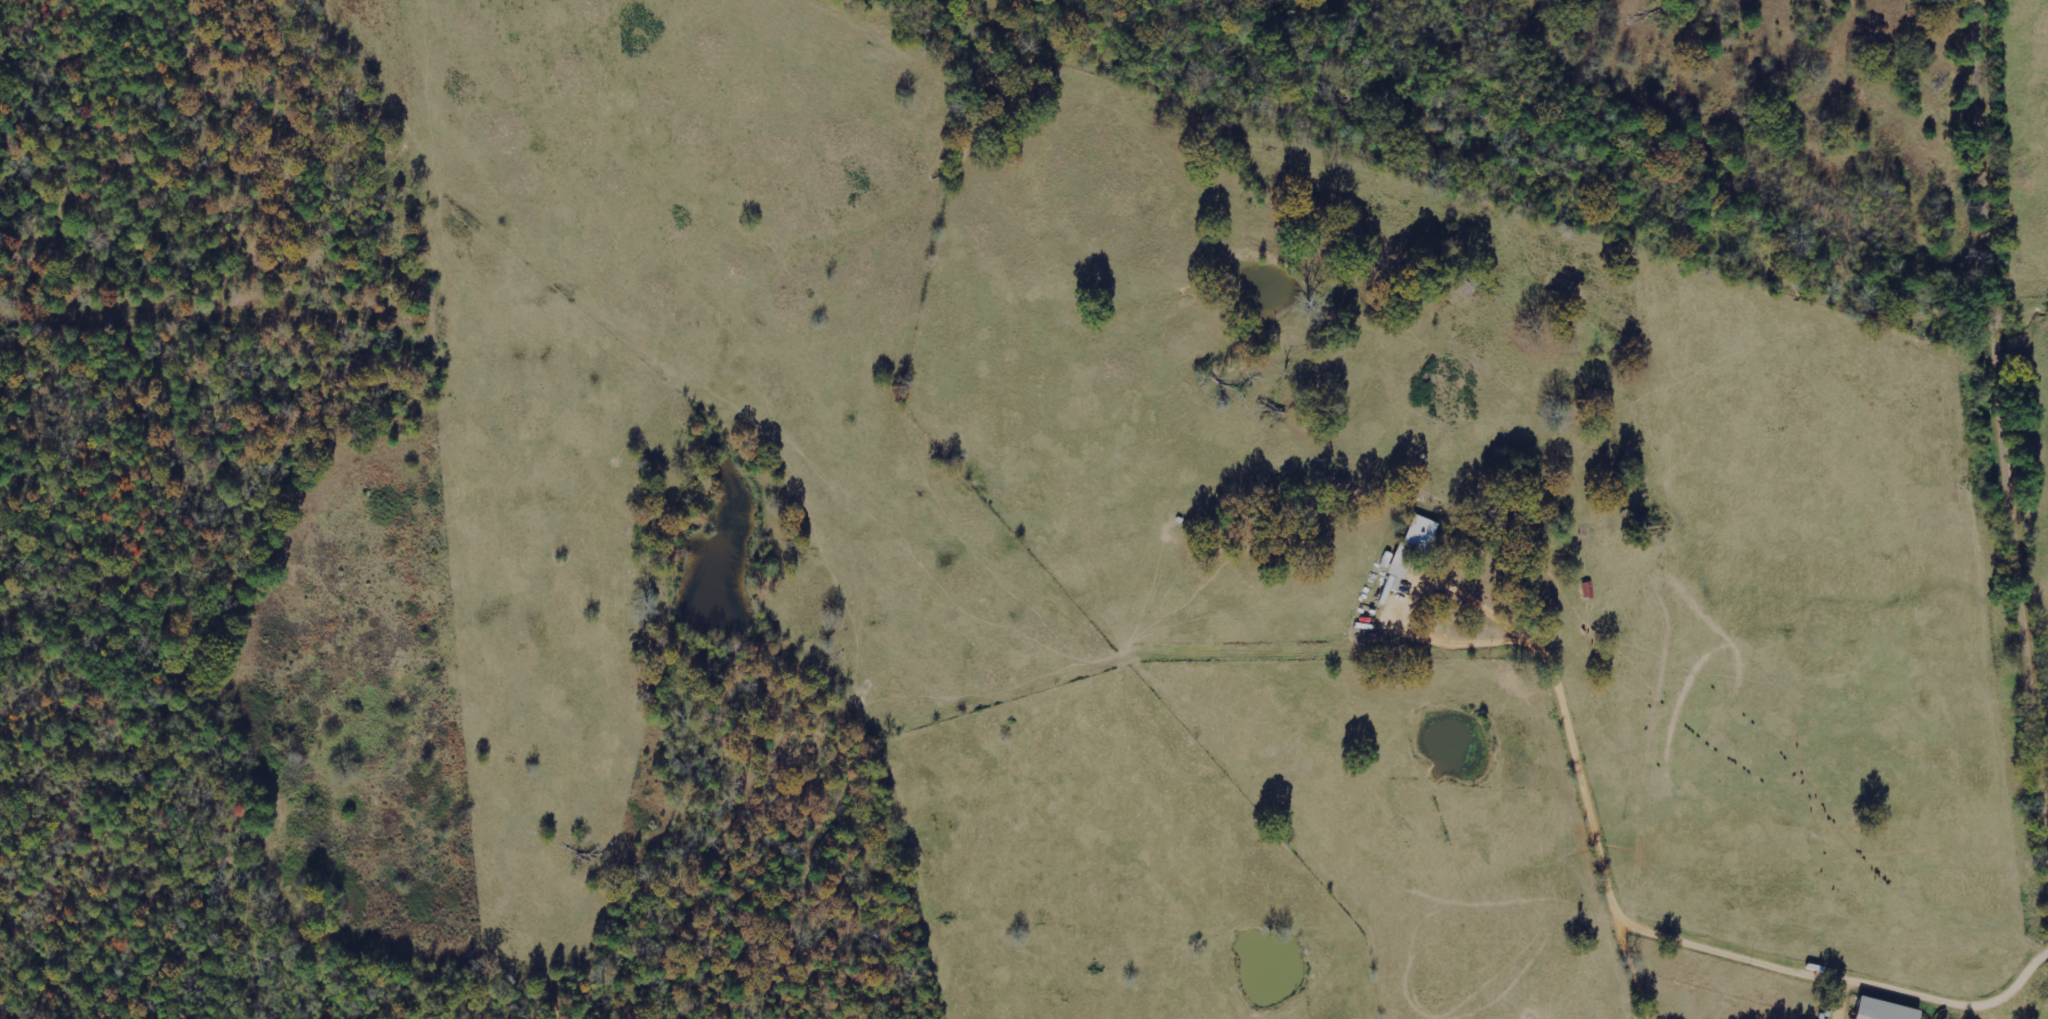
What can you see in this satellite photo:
road: (2044, 255)
building: (1419, 532)
building: (1880, 1010)

